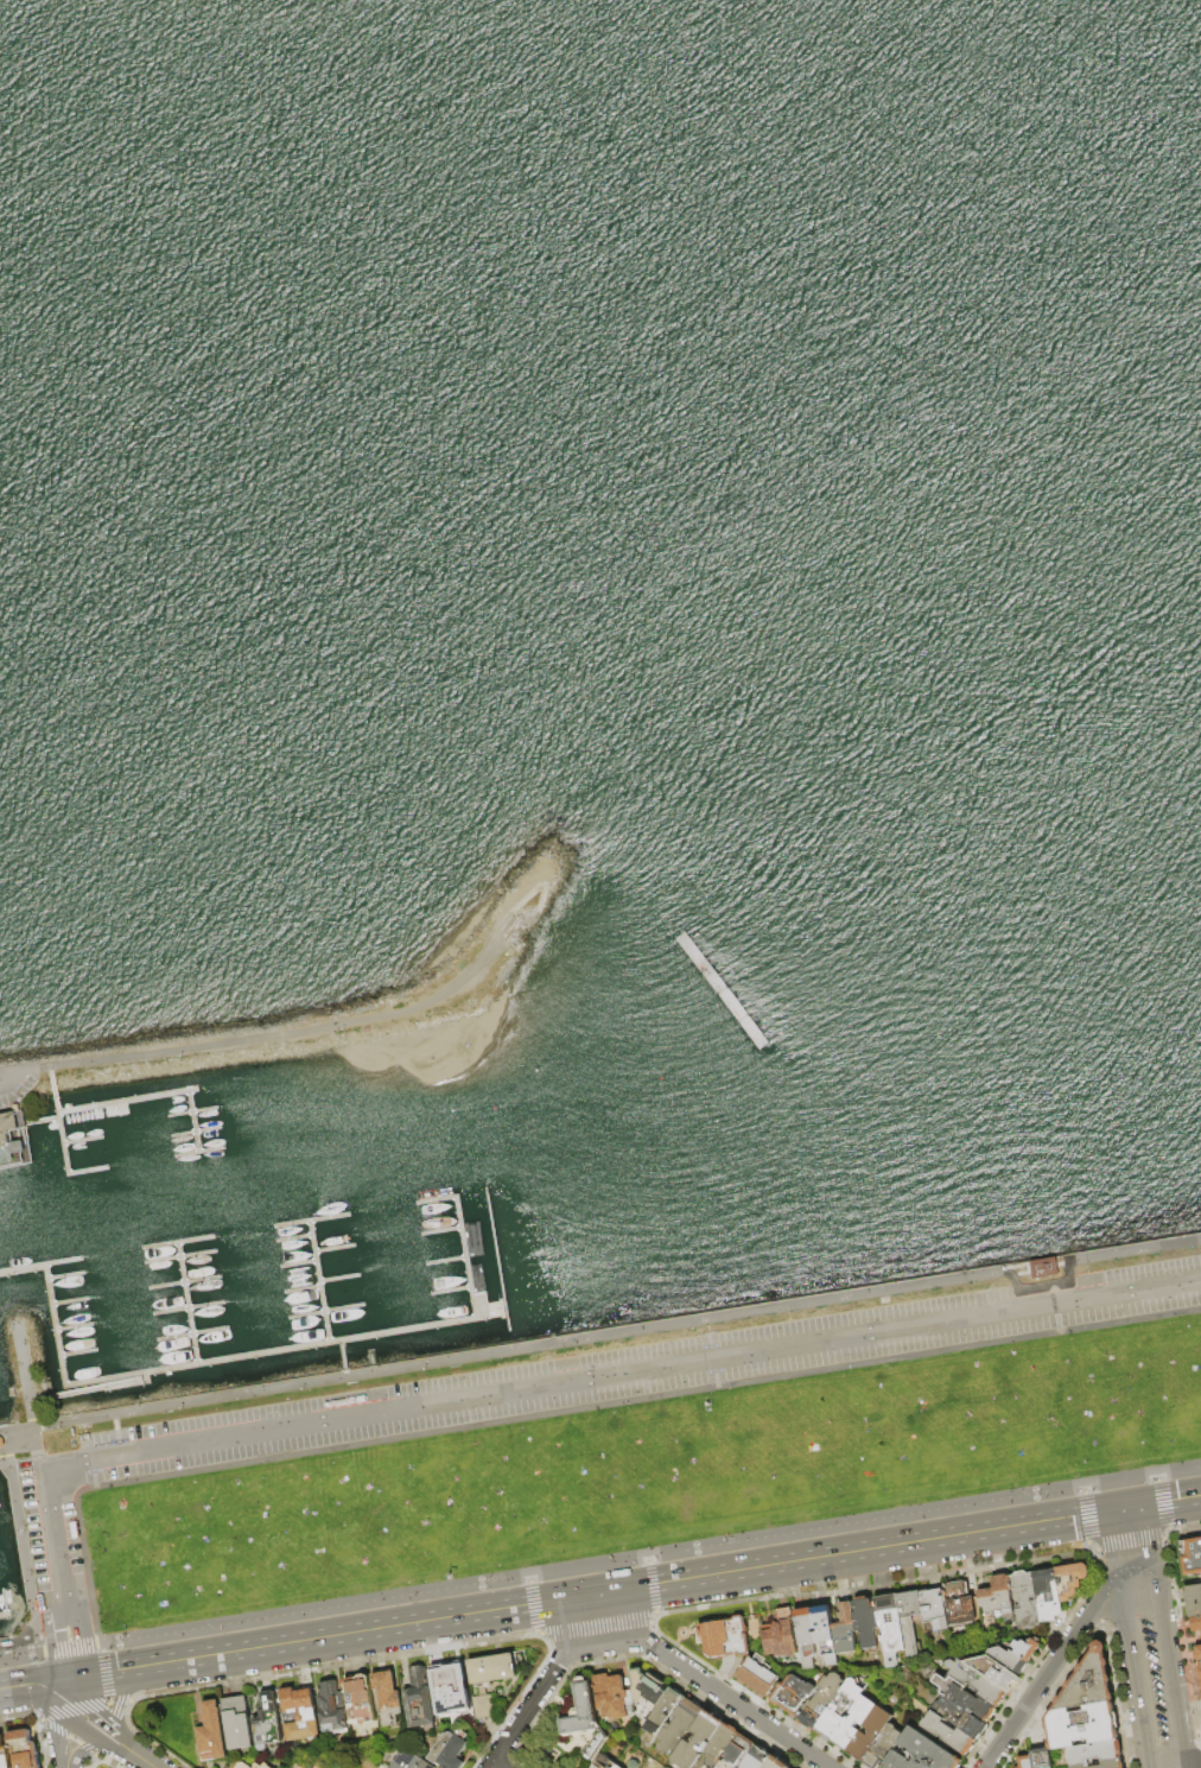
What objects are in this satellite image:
road: (326, 1028)
road: (17, 1075)
parking lot: (17, 1094)
pier: (150, 1097)
pier: (191, 1113)
pier: (43, 1121)
pier: (58, 1121)
pier: (193, 1121)
pier: (195, 1133)
pier: (13, 1138)
building: (14, 1138)
pier: (81, 1139)
pier: (198, 1151)
pier: (87, 1170)
pier: (436, 1199)
pier: (310, 1219)
pier: (440, 1231)
pier: (292, 1238)
pier: (176, 1241)
pier: (332, 1248)
pier: (178, 1256)
pier: (465, 1256)
pier: (445, 1261)
pier: (297, 1263)
pier: (40, 1266)
building: (1044, 1266)
pier: (65, 1275)
pier: (338, 1279)
pier: (317, 1281)
pier: (182, 1282)
pier: (300, 1289)
pier: (450, 1289)
pier: (69, 1300)
pier: (186, 1303)
pier: (186, 1307)
pier: (324, 1311)
pier: (55, 1325)
pier: (74, 1326)
road: (637, 1329)
pier: (191, 1333)
pier: (269, 1351)
pier: (77, 1352)
road: (622, 1373)
road: (24, 1374)
parking lot: (577, 1384)
pier: (94, 1387)
road: (36, 1398)
road: (563, 1411)
road: (15, 1430)
pier: (5, 1440)
building: (0, 1443)
road: (25, 1447)
road: (39, 1457)
park: (644, 1474)
road: (1155, 1477)
road: (1082, 1489)
road: (1162, 1503)
traffic signals: (1125, 1508)
road: (1085, 1517)
road: (1184, 1527)
road: (1168, 1529)
road: (1165, 1534)
road: (1127, 1544)
road: (21, 1545)
road: (55, 1547)
road: (1089, 1547)
road: (1132, 1550)
road: (650, 1555)
building: (1192, 1558)
road: (647, 1559)
road: (1000, 1564)
road: (529, 1578)
building: (1072, 1582)
road: (637, 1585)
road: (652, 1586)
building: (1048, 1595)
building: (998, 1597)
pier: (4, 1602)
building: (1027, 1602)
building: (1193, 1602)
road: (532, 1605)
building: (910, 1605)
building: (960, 1607)
building: (934, 1611)
pier: (5, 1616)
road: (654, 1618)
building: (868, 1623)
building: (891, 1624)
building: (1196, 1626)
road: (595, 1627)
road: (535, 1631)
building: (845, 1631)
road: (538, 1633)
building: (826, 1635)
road: (1180, 1635)
building: (782, 1636)
building: (725, 1639)
building: (807, 1639)
road: (97, 1643)
road: (69, 1647)
road: (100, 1647)
road: (70, 1650)
building: (1028, 1650)
road: (413, 1652)
road: (21, 1654)
building: (1199, 1655)
building: (1009, 1661)
road: (1051, 1666)
building: (1200, 1667)
building: (494, 1669)
building: (995, 1672)
road: (104, 1673)
road: (1169, 1675)
traffic signals: (75, 1677)
building: (760, 1677)
road: (1136, 1678)
road: (37, 1683)
road: (545, 1683)
building: (977, 1683)
building: (1088, 1684)
road: (707, 1685)
building: (451, 1688)
building: (649, 1693)
road: (122, 1694)
parking lot: (1157, 1694)
road: (751, 1696)
building: (795, 1696)
building: (612, 1697)
building: (388, 1698)
building: (966, 1699)
road: (107, 1700)
road: (131, 1700)
building: (420, 1700)
road: (119, 1702)
building: (361, 1702)
building: (822, 1702)
building: (843, 1707)
building: (333, 1709)
building: (485, 1709)
road: (74, 1711)
building: (583, 1711)
building: (301, 1716)
building: (662, 1716)
road: (99, 1718)
building: (960, 1718)
road: (58, 1721)
building: (269, 1723)
building: (854, 1723)
building: (239, 1725)
building: (1082, 1726)
road: (53, 1728)
road: (83, 1728)
building: (681, 1728)
building: (948, 1734)
building: (214, 1735)
building: (870, 1735)
road: (72, 1740)
road: (145, 1740)
building: (700, 1741)
building: (589, 1744)
building: (720, 1747)
building: (883, 1747)
building: (26, 1749)
road: (87, 1749)
building: (451, 1750)
road: (83, 1751)
building: (5, 1753)
building: (739, 1753)
building: (922, 1753)
building: (1095, 1754)
building: (758, 1759)
building: (1042, 1759)
road: (142, 1761)
building: (412, 1761)
building: (604, 1762)
building: (1025, 1762)
building: (776, 1763)
road: (497, 1764)
building: (1112, 1764)
building: (242, 1766)
road: (1193, 1766)
building: (258, 1767)
building: (266, 1767)
building: (617, 1767)
building: (1081, 1767)

